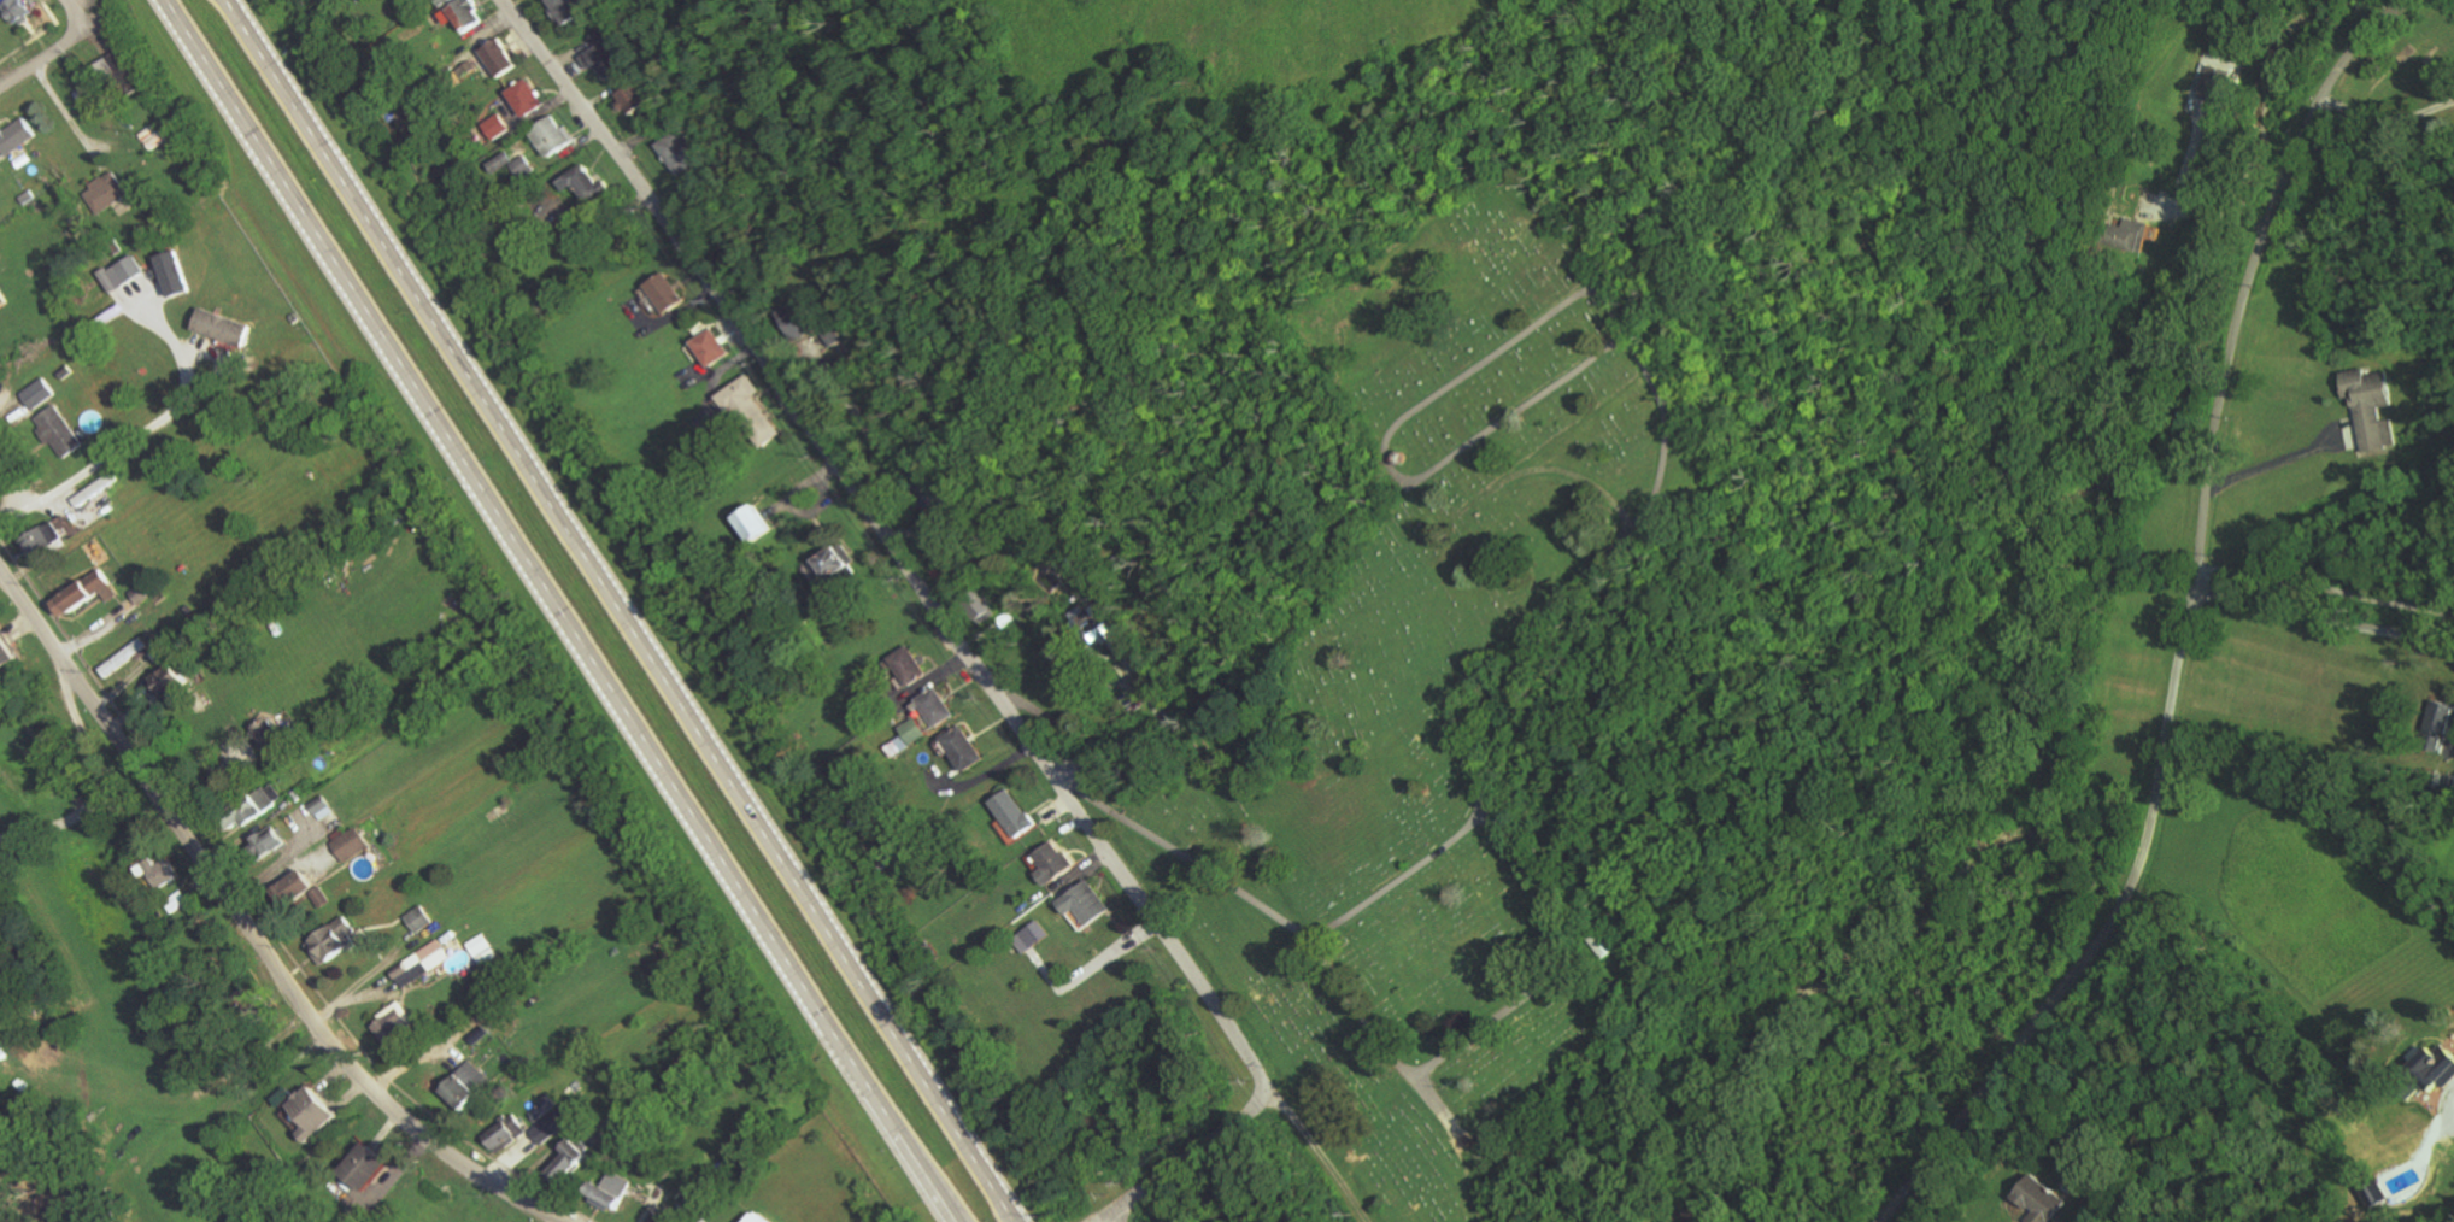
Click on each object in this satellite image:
building: (440, 1)
road: (2401, 2)
building: (568, 8)
building: (16, 10)
road: (49, 12)
road: (75, 14)
building: (460, 14)
road: (28, 41)
building: (495, 55)
road: (42, 57)
building: (598, 57)
building: (123, 71)
building: (2213, 82)
building: (523, 96)
building: (629, 98)
road: (67, 113)
road: (2384, 122)
building: (494, 125)
building: (14, 135)
building: (548, 135)
building: (675, 153)
building: (510, 164)
building: (581, 183)
building: (104, 193)
road: (2208, 212)
building: (2131, 234)
building: (121, 272)
building: (171, 272)
building: (662, 292)
building: (1, 298)
building: (221, 327)
building: (706, 347)
building: (36, 393)
building: (2368, 406)
building: (747, 411)
building: (57, 430)
road: (2274, 462)
road: (94, 465)
building: (94, 489)
building: (928, 489)
building: (750, 522)
building: (40, 537)
road: (2329, 546)
road: (883, 547)
building: (833, 560)
road: (530, 564)
building: (83, 593)
building: (980, 610)
road: (617, 611)
road: (2184, 627)
road: (2321, 631)
building: (5, 653)
building: (123, 657)
building: (904, 665)
building: (168, 680)
building: (933, 706)
building: (2437, 725)
park: (1432, 727)
building: (911, 730)
building: (265, 733)
road: (1096, 741)
road: (41, 746)
building: (896, 746)
building: (961, 748)
road: (102, 783)
building: (252, 807)
building: (321, 807)
building: (1010, 812)
building: (266, 841)
building: (348, 845)
building: (1050, 862)
building: (159, 871)
building: (290, 888)
building: (317, 898)
building: (175, 901)
building: (1082, 903)
road: (262, 916)
building: (418, 920)
road: (249, 927)
building: (1033, 934)
building: (330, 940)
building: (1605, 945)
building: (482, 950)
building: (419, 964)
road: (362, 977)
building: (391, 1022)
building: (2435, 1065)
building: (463, 1086)
building: (309, 1114)
road: (207, 1117)
building: (548, 1127)
building: (504, 1134)
road: (1186, 1158)
building: (565, 1162)
building: (356, 1174)
road: (927, 1176)
building: (607, 1189)
building: (2373, 1193)
building: (2038, 1200)
building: (755, 1217)
building: (658, 1218)
road: (1108, 1221)

